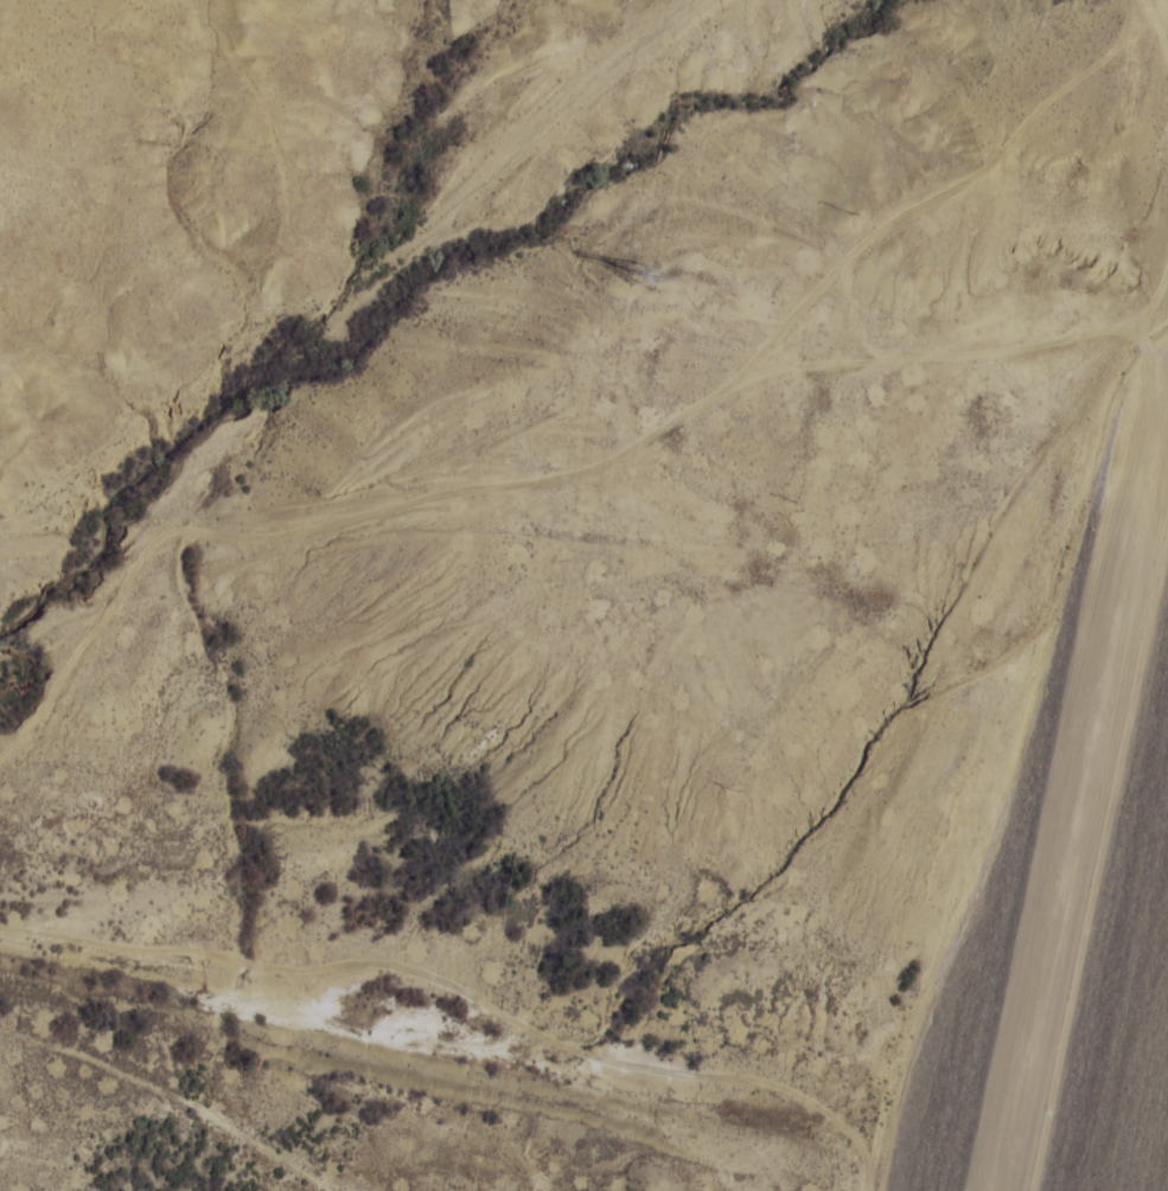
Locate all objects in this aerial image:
road: (196, 205)
power tower: (646, 270)
road: (1085, 803)
river: (576, 1064)

